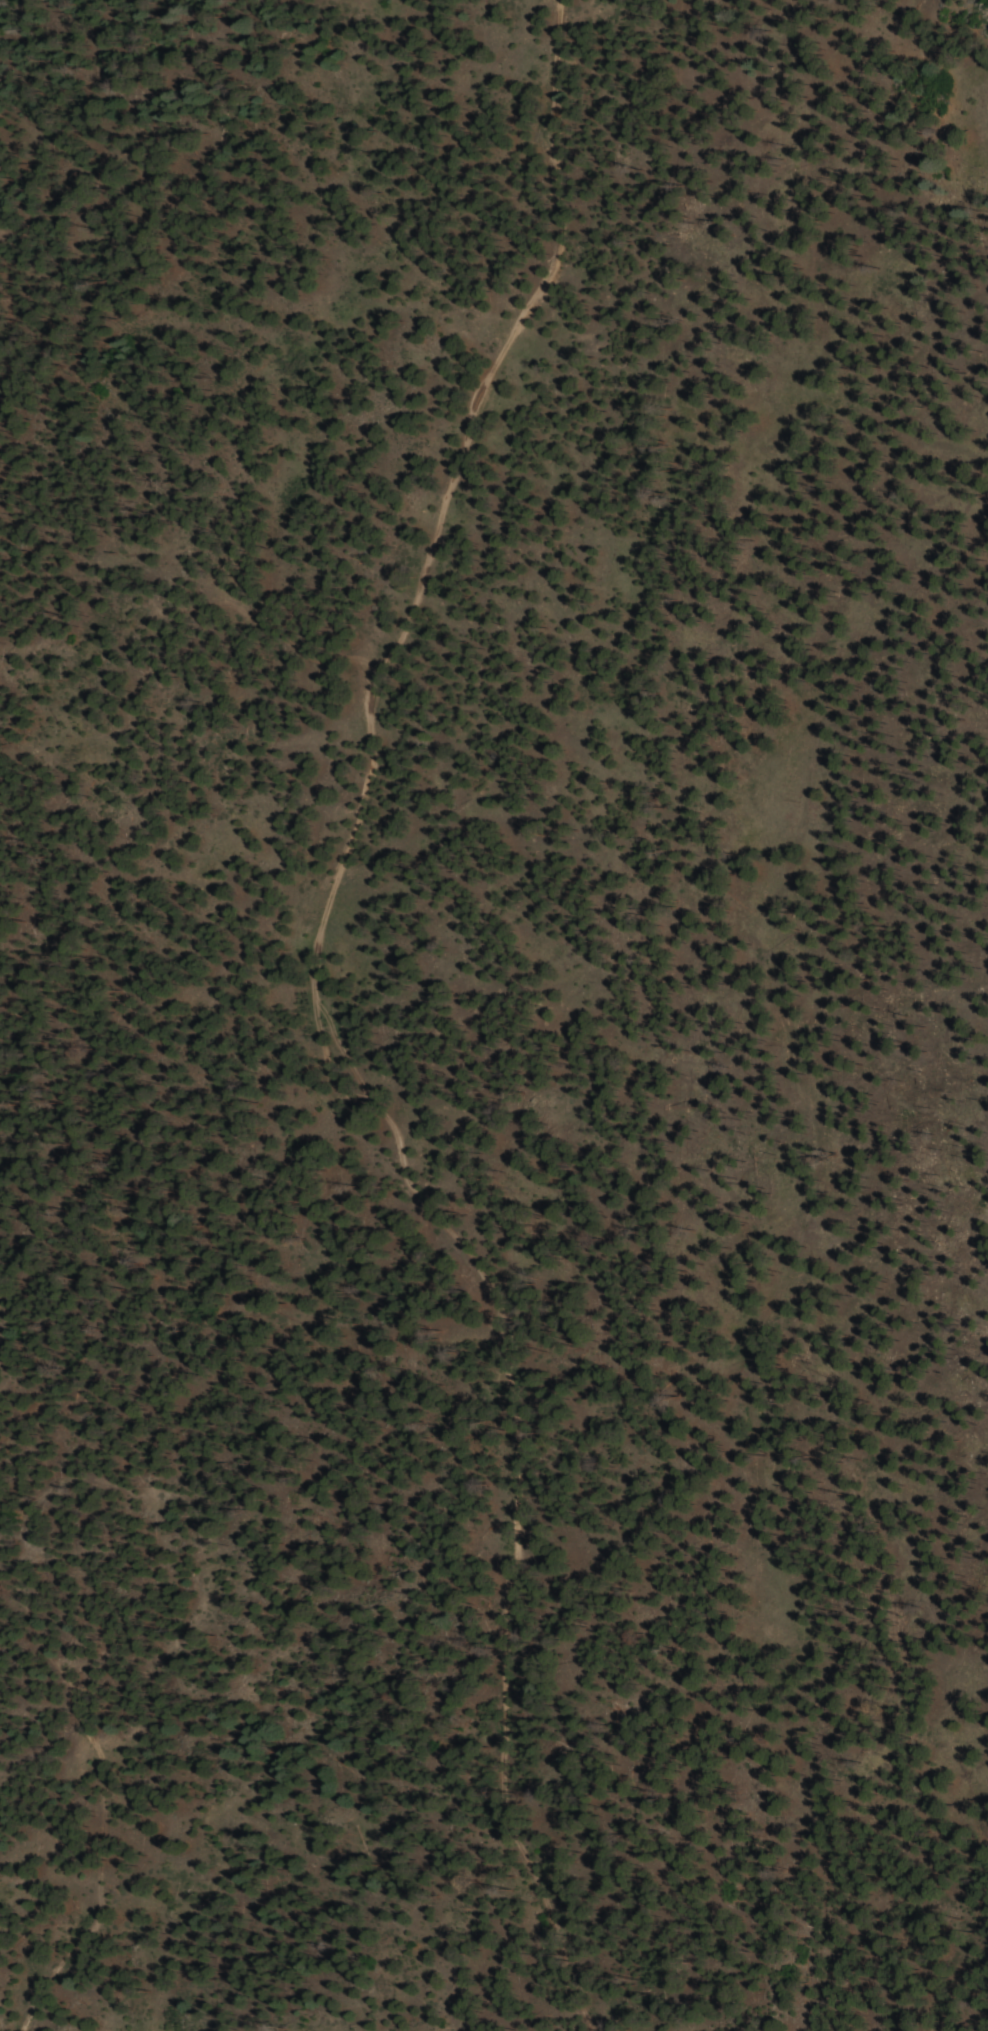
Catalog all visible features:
road: (316, 912)
road: (104, 1807)
road: (570, 1923)

